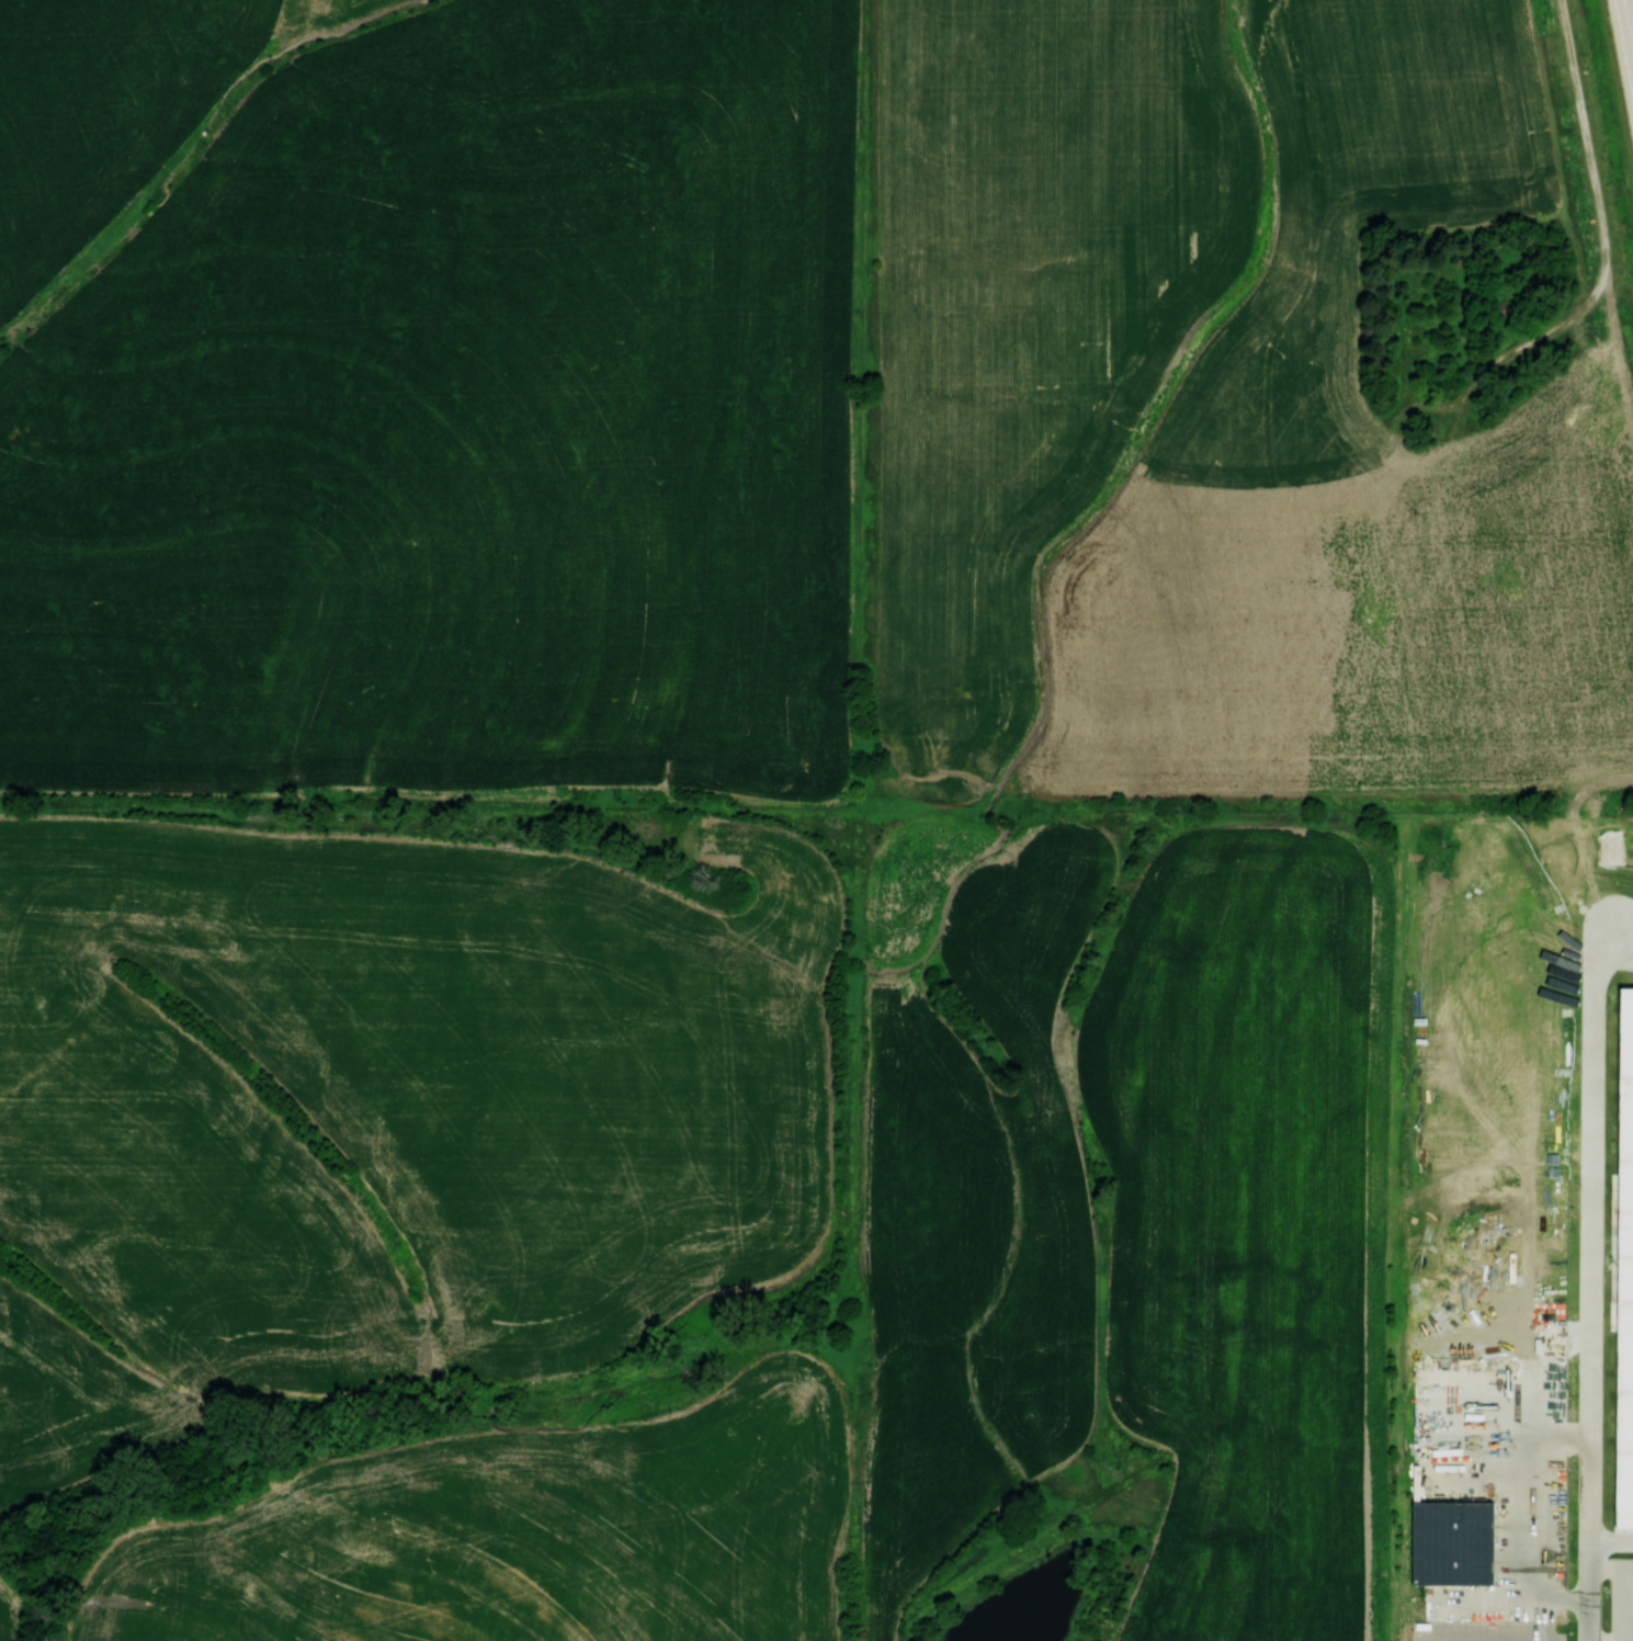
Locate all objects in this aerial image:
road: (1587, 150)
building: (1624, 1265)
road: (1588, 1276)
building: (1452, 1542)

